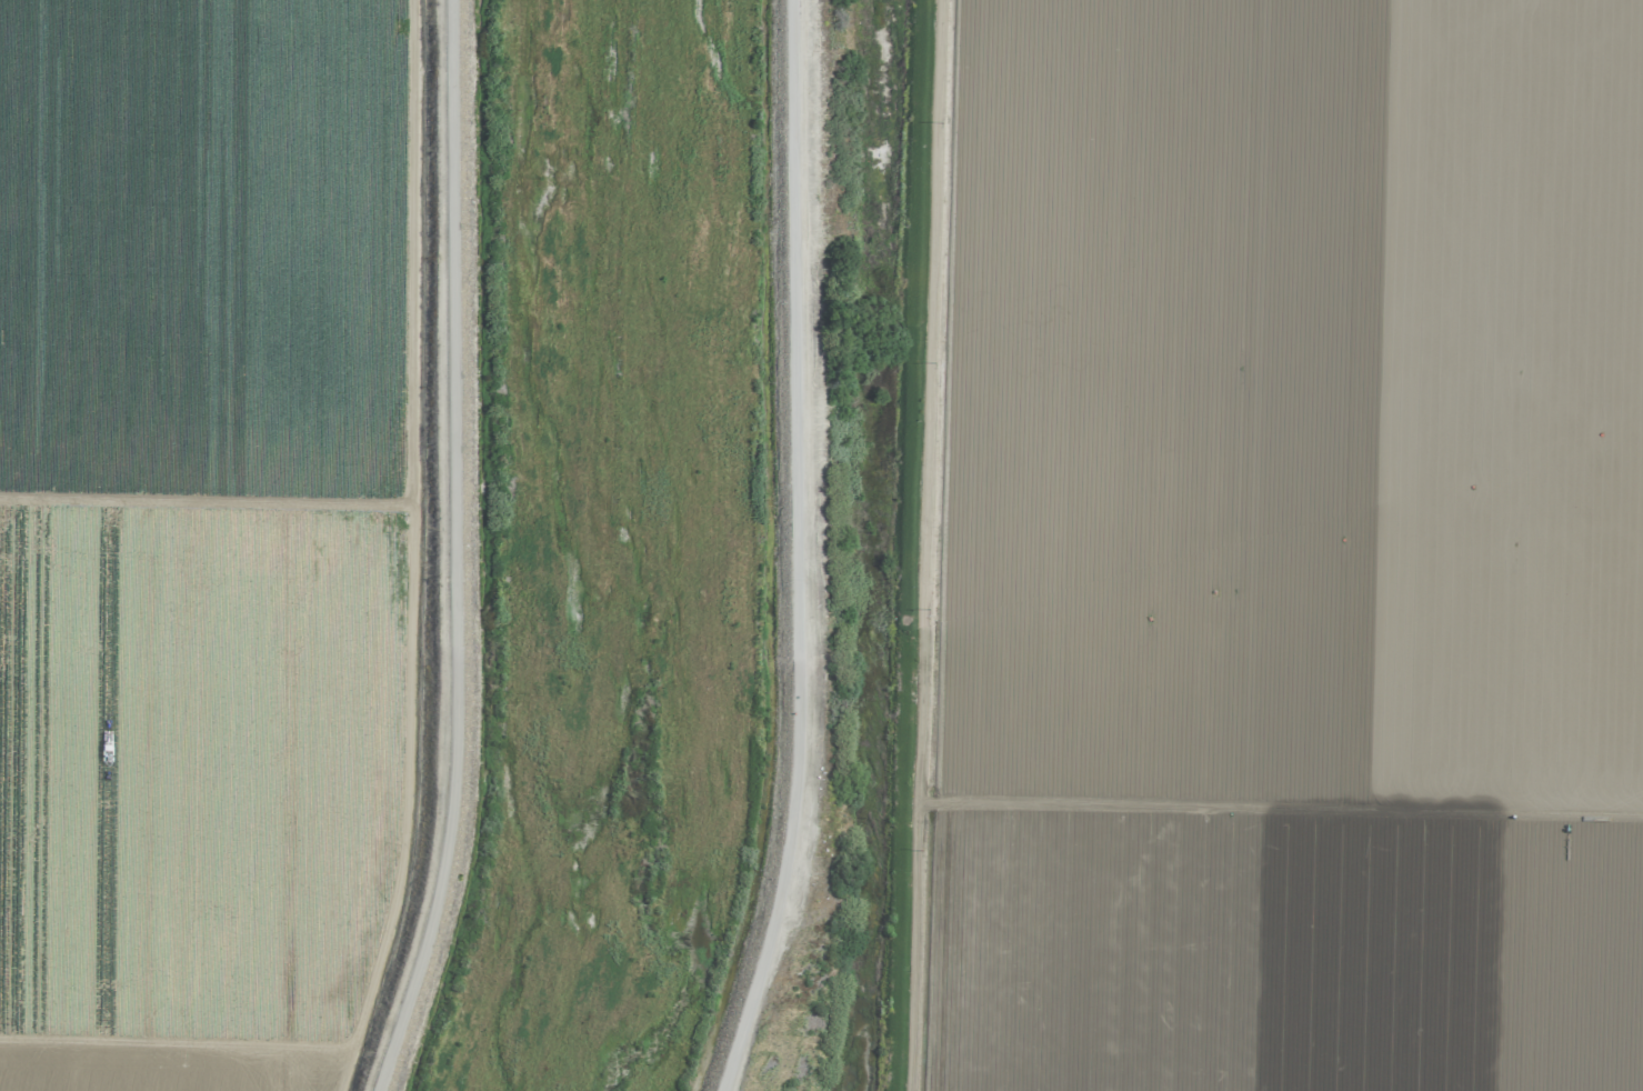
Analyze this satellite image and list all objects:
crop: (221, 534)
river: (593, 547)
crop: (1243, 547)
road: (792, 550)

